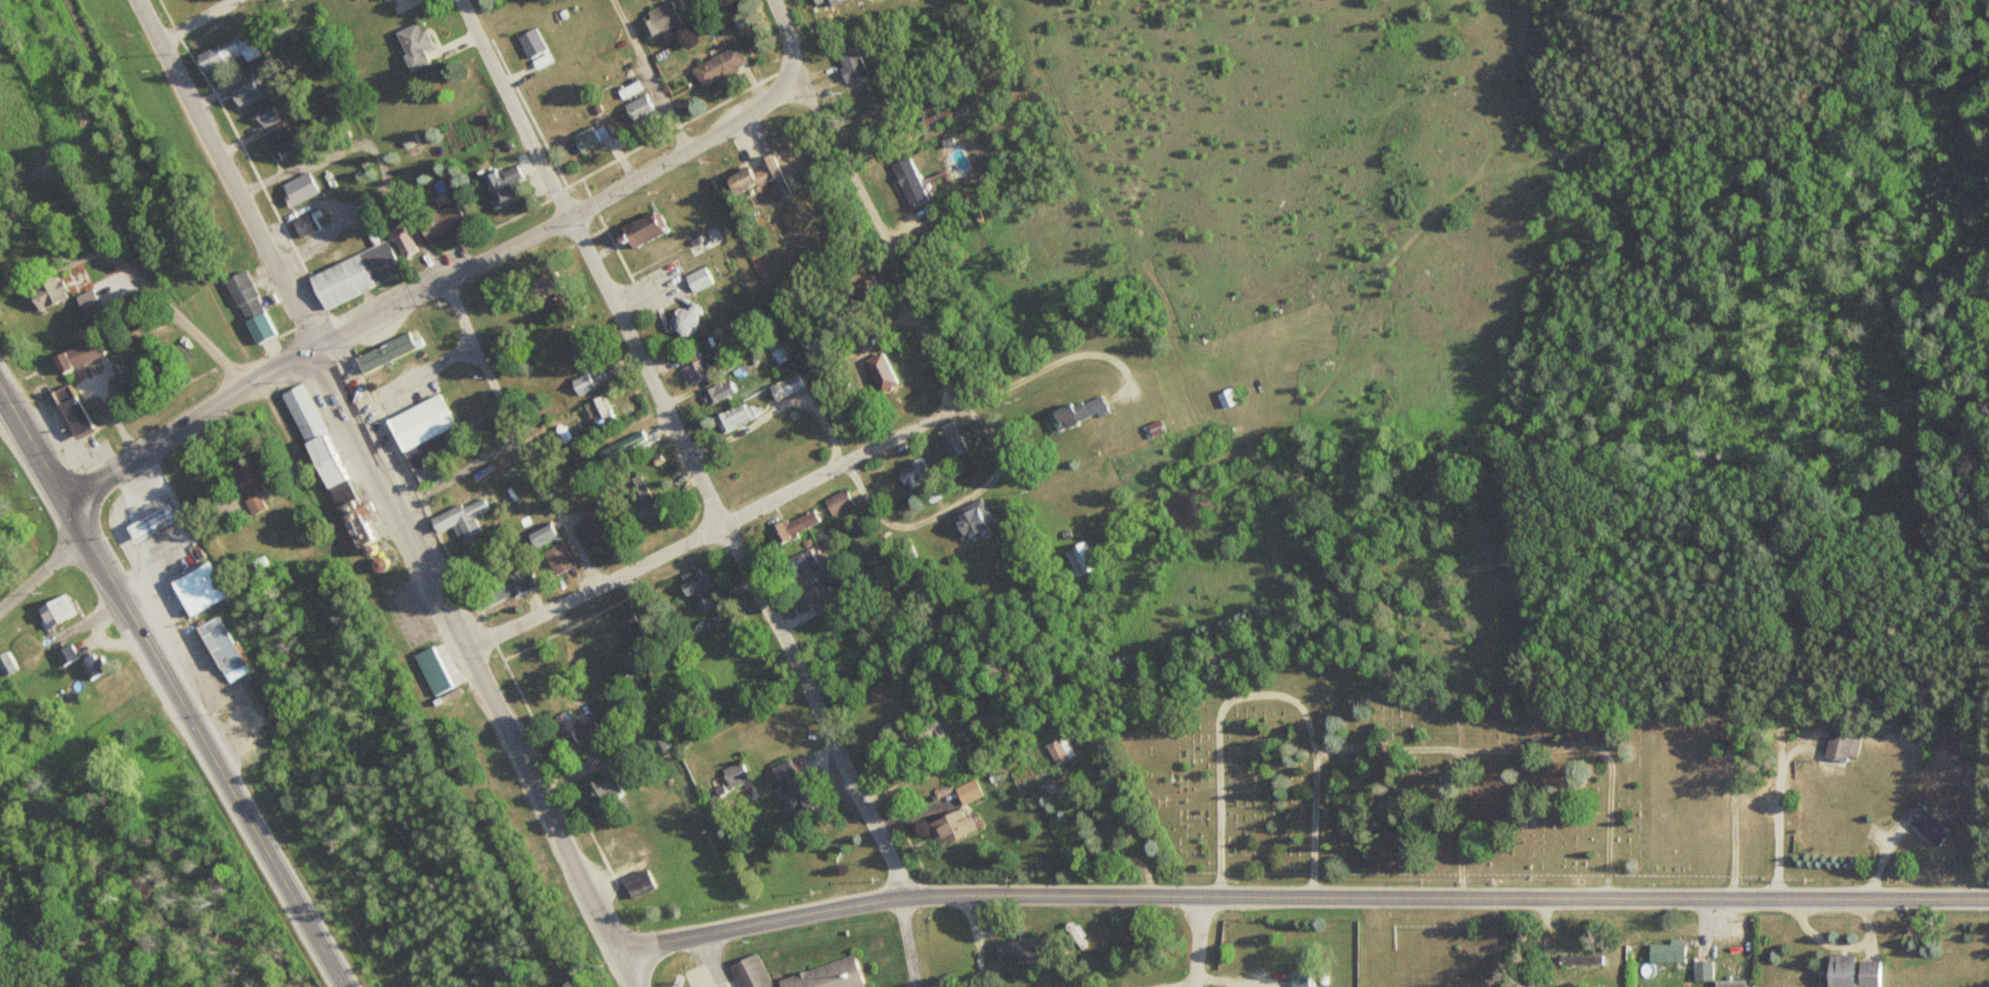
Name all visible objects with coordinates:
building: (665, 1)
building: (821, 2)
road: (197, 20)
building: (664, 20)
building: (410, 43)
building: (532, 47)
building: (229, 49)
building: (847, 61)
building: (722, 69)
building: (244, 91)
building: (635, 105)
building: (269, 115)
building: (583, 137)
building: (283, 141)
building: (770, 171)
building: (735, 178)
building: (907, 179)
building: (498, 181)
building: (297, 186)
road: (867, 200)
building: (440, 221)
building: (305, 222)
building: (638, 226)
building: (695, 277)
building: (348, 278)
road: (428, 288)
building: (46, 290)
building: (547, 291)
road: (162, 293)
building: (248, 305)
building: (581, 346)
building: (776, 347)
building: (385, 351)
building: (90, 356)
building: (71, 357)
building: (698, 365)
building: (68, 368)
building: (878, 370)
building: (142, 377)
building: (581, 382)
building: (784, 382)
building: (714, 389)
building: (1224, 395)
building: (596, 409)
building: (732, 416)
building: (1079, 418)
building: (418, 419)
building: (81, 420)
building: (1154, 424)
road: (520, 433)
building: (318, 442)
building: (950, 442)
building: (626, 445)
road: (682, 447)
road: (377, 471)
building: (429, 471)
building: (916, 475)
building: (248, 488)
road: (316, 493)
building: (638, 495)
building: (836, 500)
building: (459, 510)
building: (657, 514)
building: (965, 519)
building: (155, 521)
building: (594, 521)
building: (792, 523)
road: (711, 531)
building: (540, 534)
building: (553, 558)
building: (796, 561)
building: (377, 564)
building: (1080, 565)
road: (40, 573)
building: (203, 588)
building: (499, 588)
building: (701, 591)
building: (814, 594)
building: (53, 608)
road: (1444, 621)
building: (408, 623)
building: (629, 626)
building: (218, 641)
building: (65, 652)
building: (6, 664)
building: (89, 664)
building: (433, 669)
road: (171, 690)
road: (1262, 694)
building: (581, 726)
road: (1459, 747)
building: (1842, 749)
road: (1604, 751)
building: (1063, 755)
building: (735, 770)
park: (1375, 773)
building: (789, 781)
building: (599, 794)
building: (970, 794)
building: (950, 824)
building: (1930, 825)
building: (636, 881)
road: (1298, 894)
road: (1199, 940)
building: (1021, 946)
building: (1670, 955)
building: (1577, 959)
building: (1583, 965)
road: (622, 966)
building: (748, 972)
building: (1858, 973)
building: (824, 974)
building: (1704, 974)
building: (1298, 978)
parking lot: (692, 980)
building: (1733, 985)

